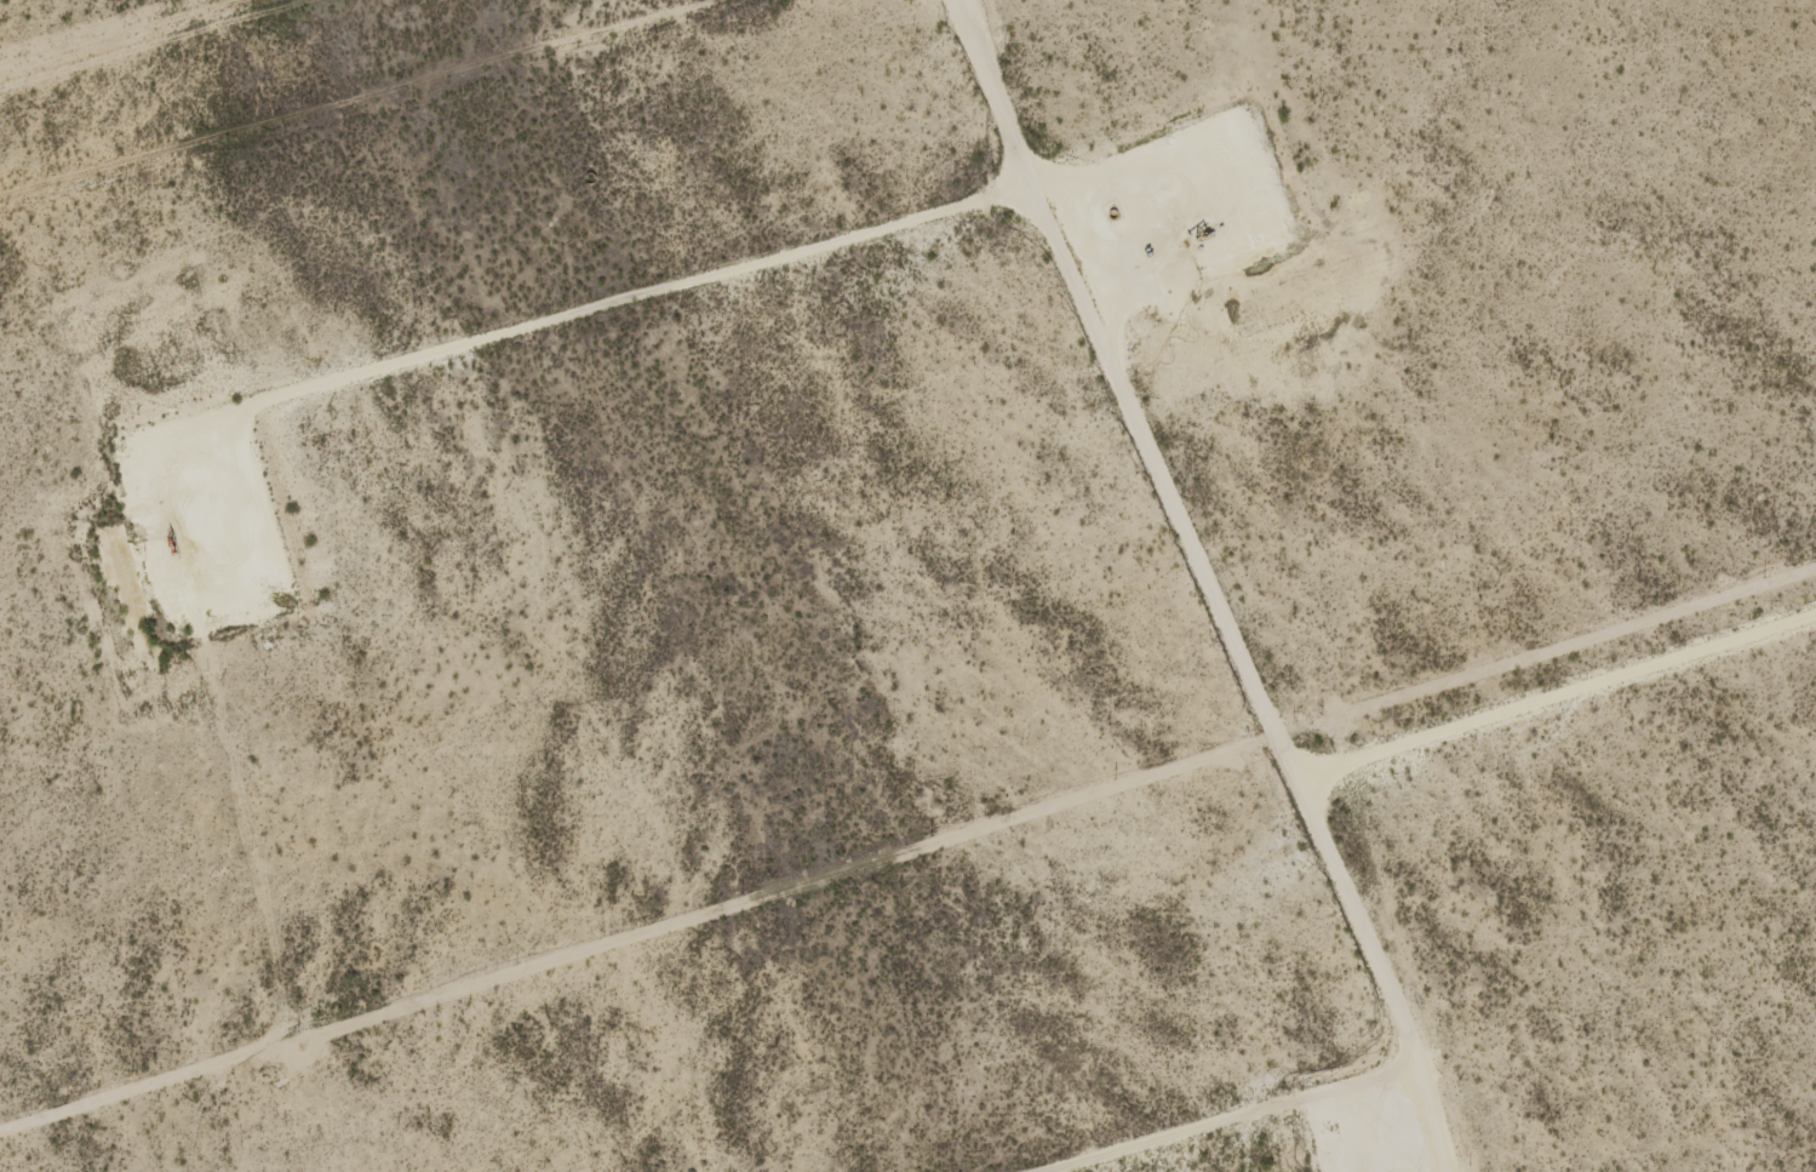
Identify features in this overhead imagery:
petroleum well: (1198, 238)
road: (578, 307)
petroleum well: (166, 543)
road: (1209, 581)
road: (1557, 698)
road: (1255, 1124)

